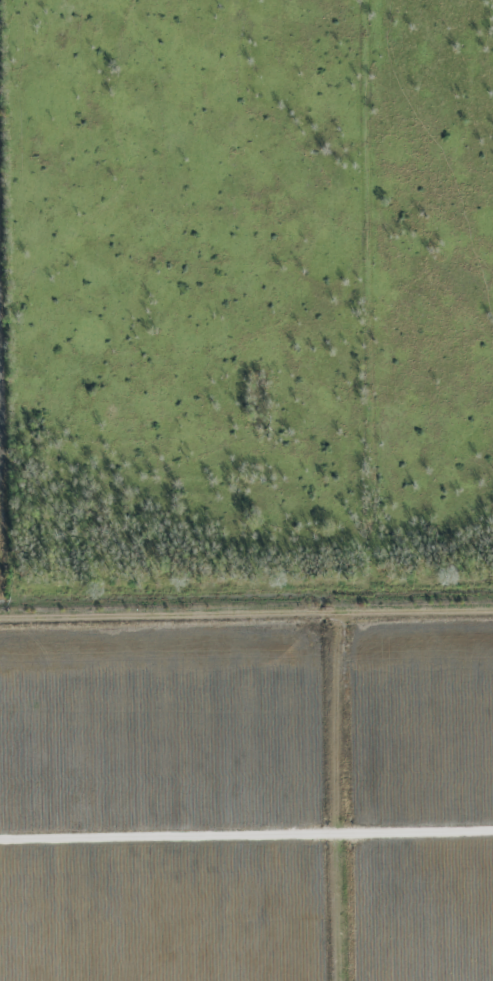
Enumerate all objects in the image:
road: (246, 623)
road: (342, 800)

